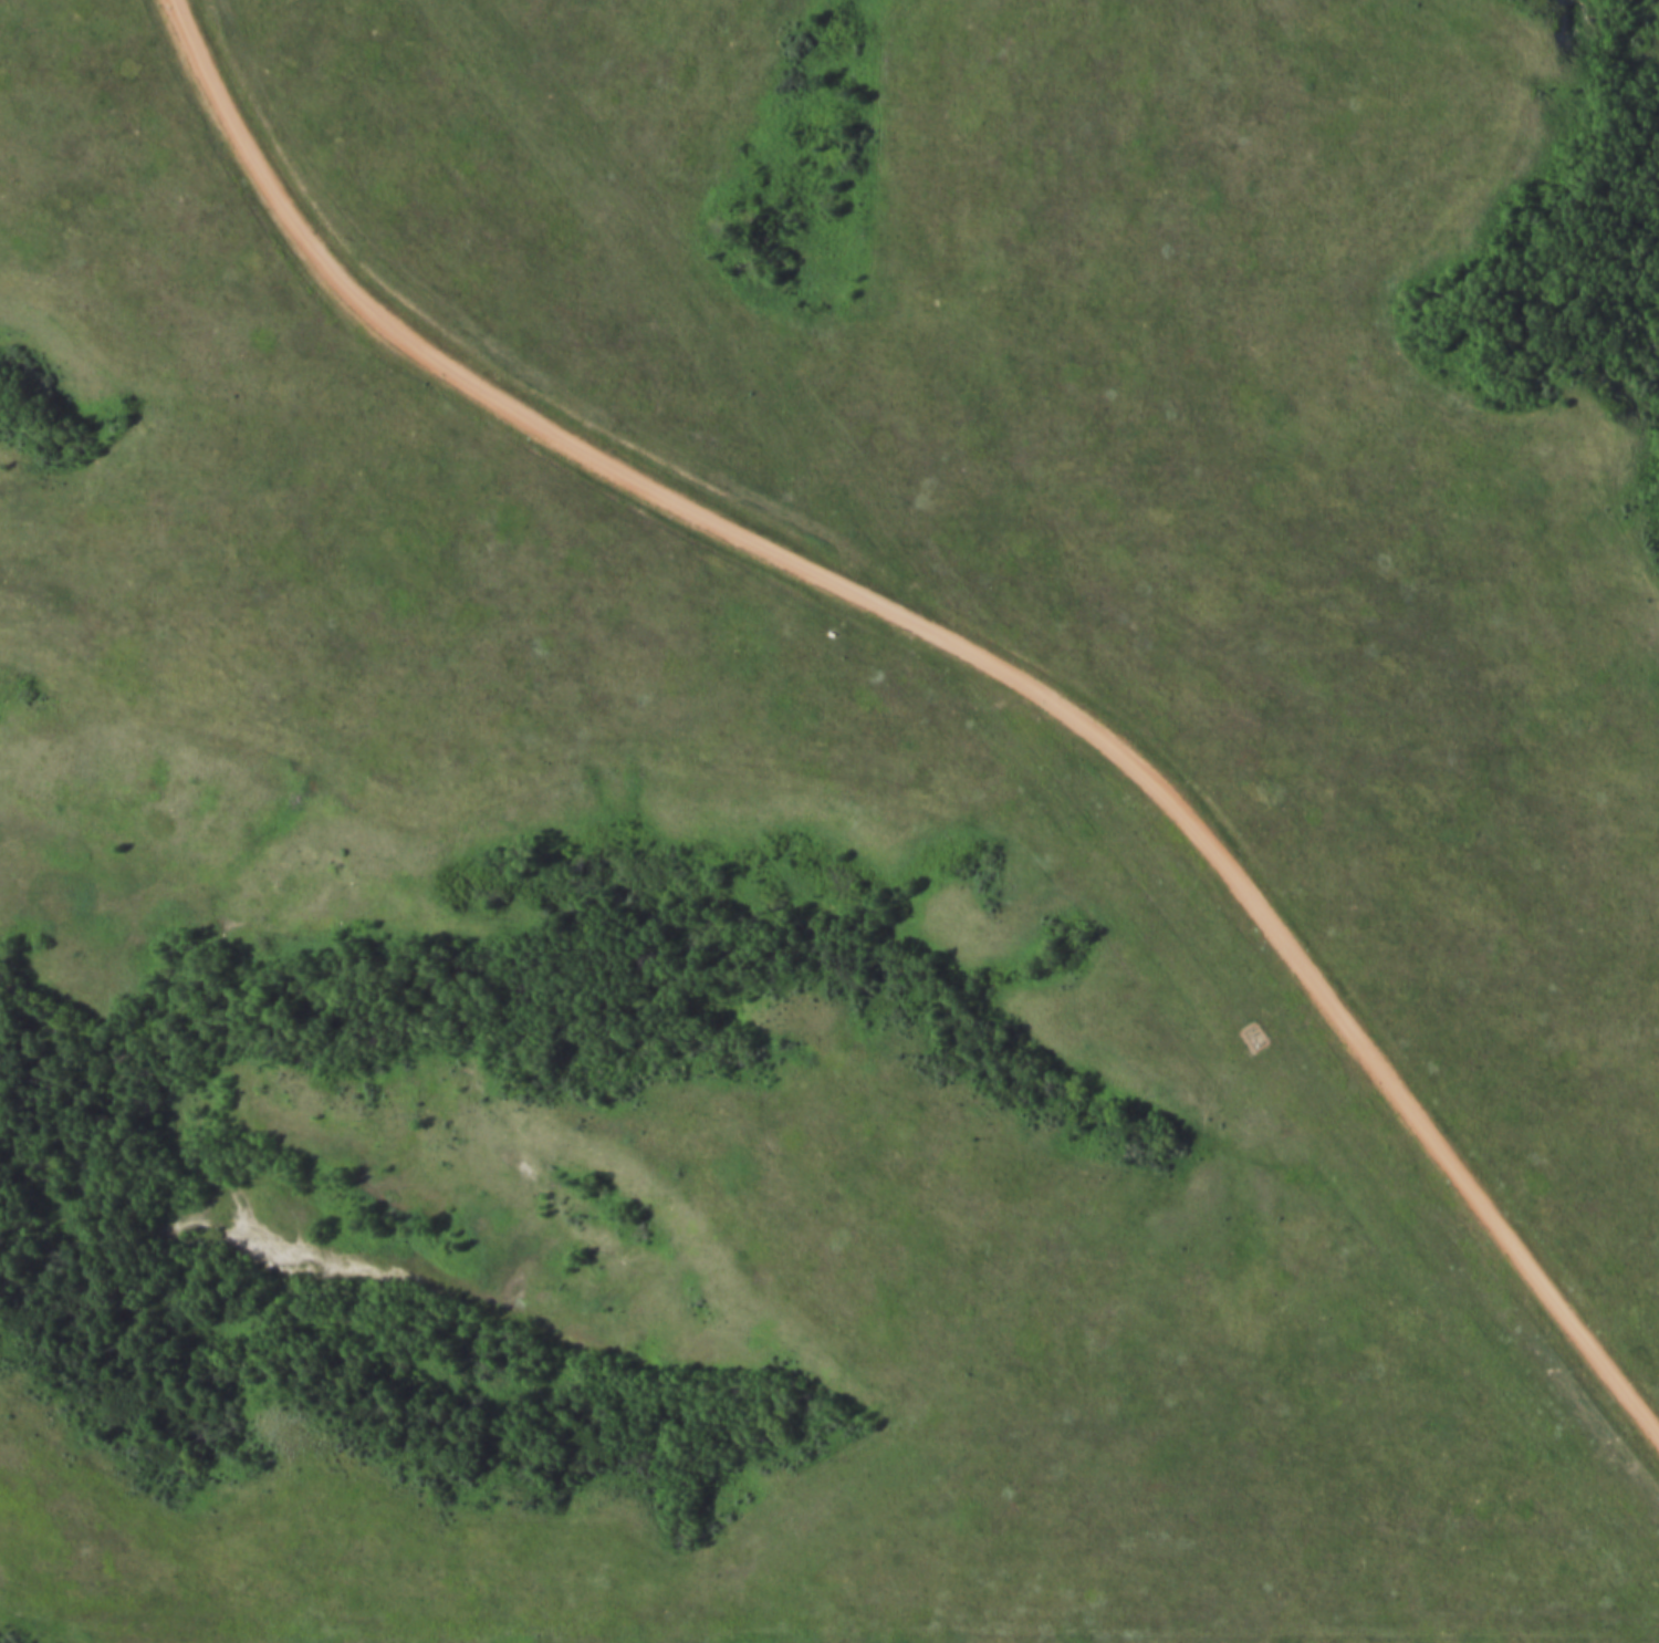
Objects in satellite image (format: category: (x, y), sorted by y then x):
road: (983, 669)

